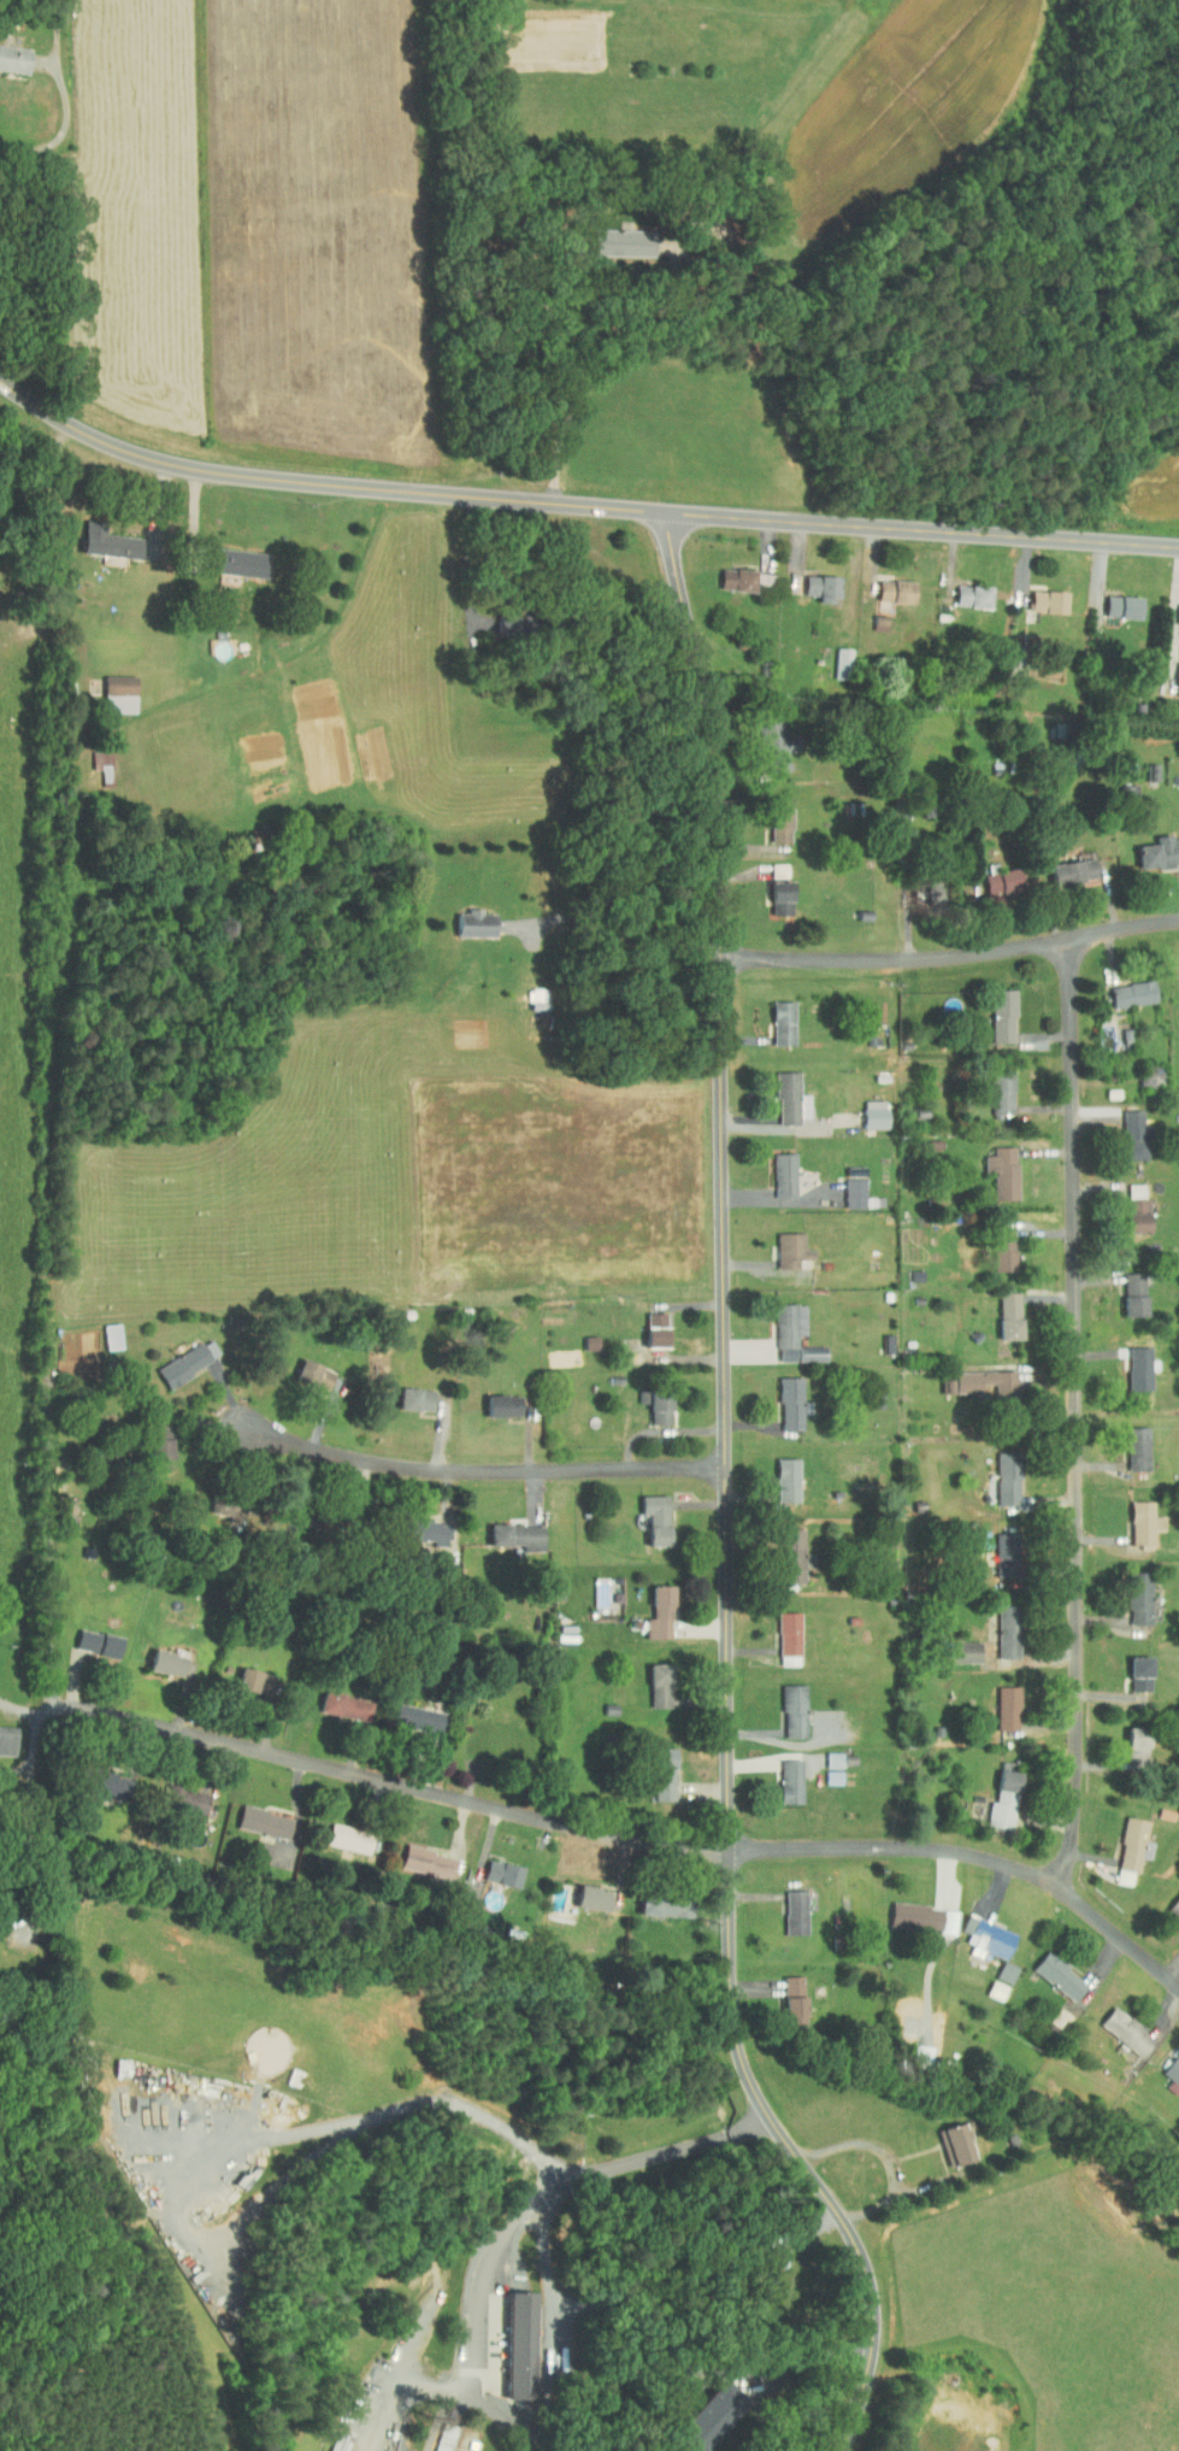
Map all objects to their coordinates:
building: (8, 53)
road: (64, 128)
building: (612, 236)
road: (34, 404)
road: (620, 509)
building: (99, 536)
building: (226, 557)
road: (470, 559)
building: (726, 571)
building: (812, 580)
building: (885, 583)
building: (962, 589)
building: (1038, 594)
building: (1113, 599)
building: (1173, 606)
building: (869, 616)
building: (1174, 642)
building: (832, 657)
building: (1173, 672)
building: (108, 688)
building: (764, 739)
building: (90, 757)
building: (770, 818)
building: (1155, 845)
building: (1063, 864)
building: (991, 874)
building: (915, 882)
road: (621, 886)
building: (771, 891)
building: (465, 916)
road: (953, 957)
building: (1122, 987)
building: (992, 1009)
building: (773, 1016)
building: (992, 1086)
building: (780, 1092)
building: (865, 1107)
building: (1122, 1127)
building: (992, 1164)
building: (774, 1168)
building: (844, 1186)
building: (1126, 1201)
building: (994, 1241)
building: (780, 1244)
building: (792, 1269)
building: (1124, 1287)
building: (1000, 1309)
building: (647, 1323)
building: (779, 1323)
building: (101, 1329)
building: (580, 1335)
building: (177, 1354)
building: (1128, 1362)
building: (303, 1368)
building: (969, 1375)
building: (406, 1392)
building: (780, 1397)
building: (493, 1399)
building: (650, 1401)
road: (1075, 1416)
building: (151, 1440)
building: (1127, 1441)
building: (997, 1471)
road: (468, 1473)
building: (777, 1474)
building: (210, 1499)
road: (726, 1505)
building: (647, 1511)
building: (1133, 1516)
building: (415, 1524)
building: (508, 1529)
building: (780, 1548)
building: (998, 1554)
building: (1130, 1592)
building: (649, 1606)
road: (12, 1609)
building: (998, 1624)
building: (778, 1632)
building: (88, 1636)
building: (957, 1645)
building: (158, 1656)
building: (1131, 1668)
building: (237, 1673)
building: (649, 1679)
building: (335, 1699)
building: (997, 1701)
building: (784, 1704)
road: (20, 1709)
building: (407, 1712)
road: (22, 1726)
building: (2, 1734)
building: (1127, 1740)
building: (823, 1753)
building: (654, 1768)
road: (18, 1769)
building: (823, 1770)
building: (780, 1775)
building: (98, 1776)
building: (995, 1791)
building: (175, 1793)
building: (1173, 1803)
building: (254, 1815)
road: (33, 1824)
building: (338, 1832)
road: (625, 1842)
building: (1120, 1844)
building: (252, 1845)
building: (418, 1856)
building: (491, 1867)
building: (584, 1892)
building: (655, 1899)
building: (1171, 1902)
building: (785, 1906)
building: (913, 1910)
building: (977, 1930)
building: (997, 1967)
building: (1049, 1970)
building: (986, 1983)
building: (784, 1994)
building: (1116, 2024)
building: (912, 2047)
building: (1168, 2067)
building: (945, 2138)
road: (550, 2192)
building: (511, 2339)
road: (446, 2390)
building: (698, 2412)
building: (434, 2432)
building: (384, 2449)

